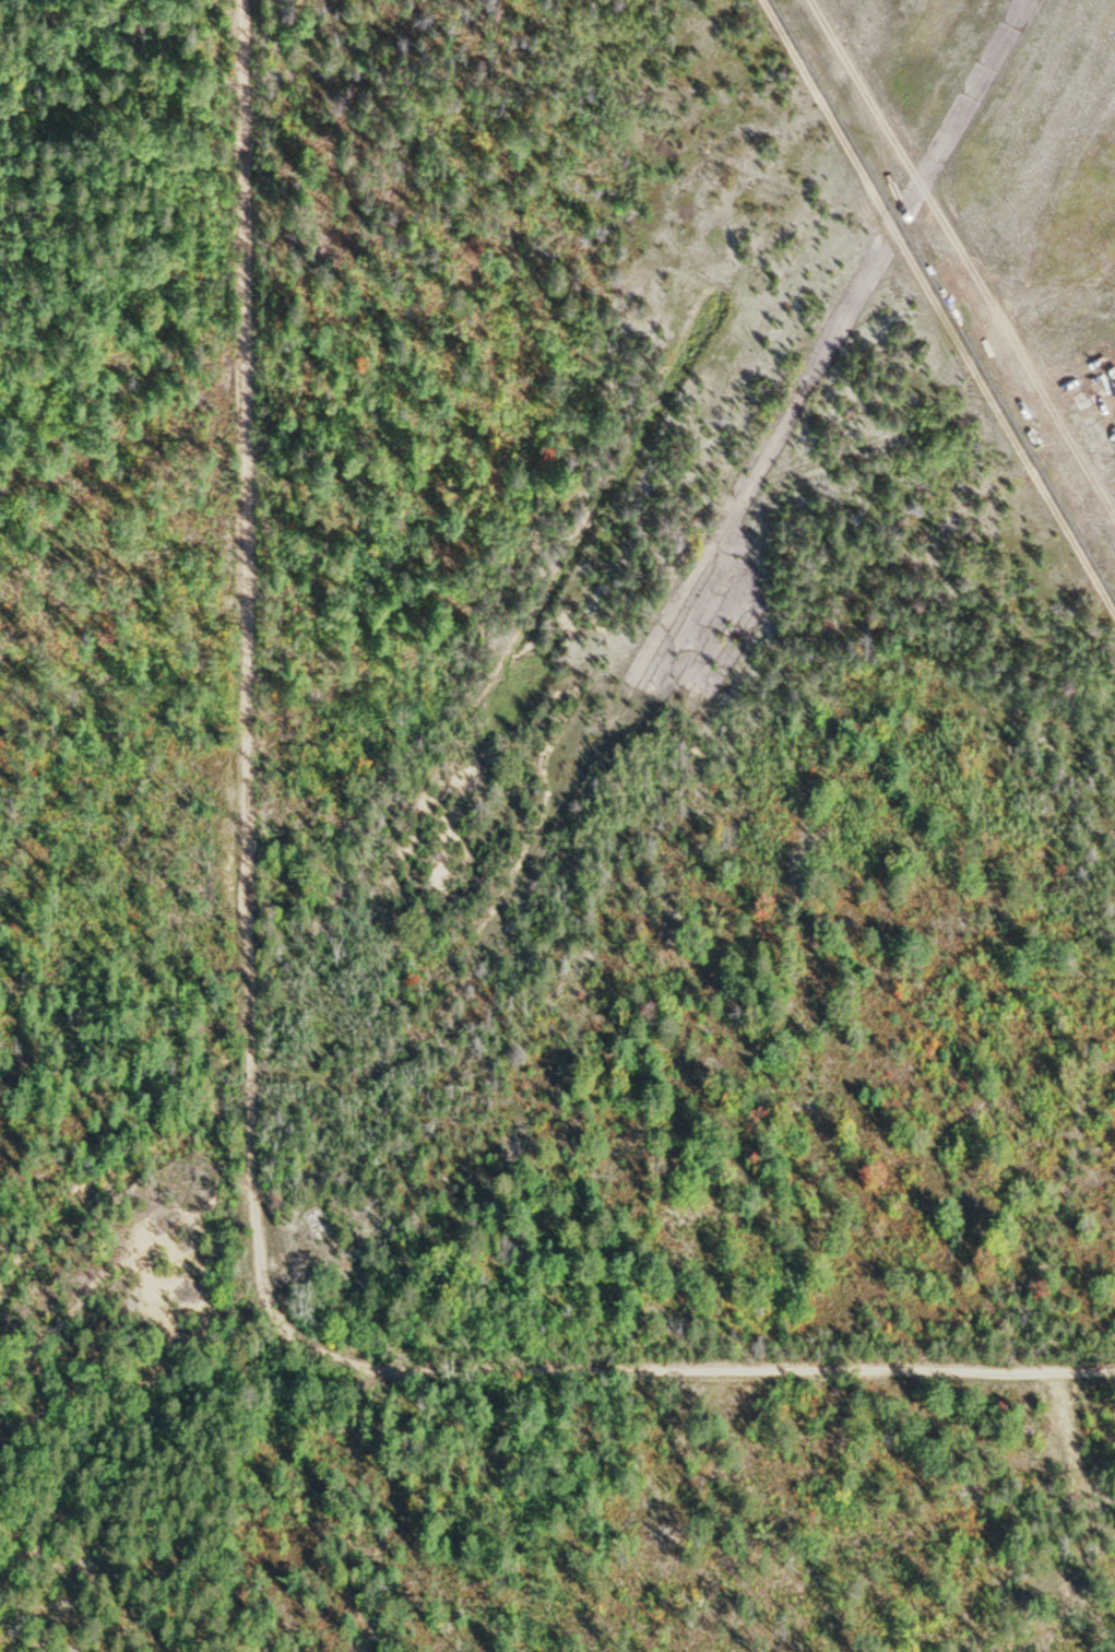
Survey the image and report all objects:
airport: (997, 203)
road: (952, 271)
road: (594, 687)
road: (244, 1093)

